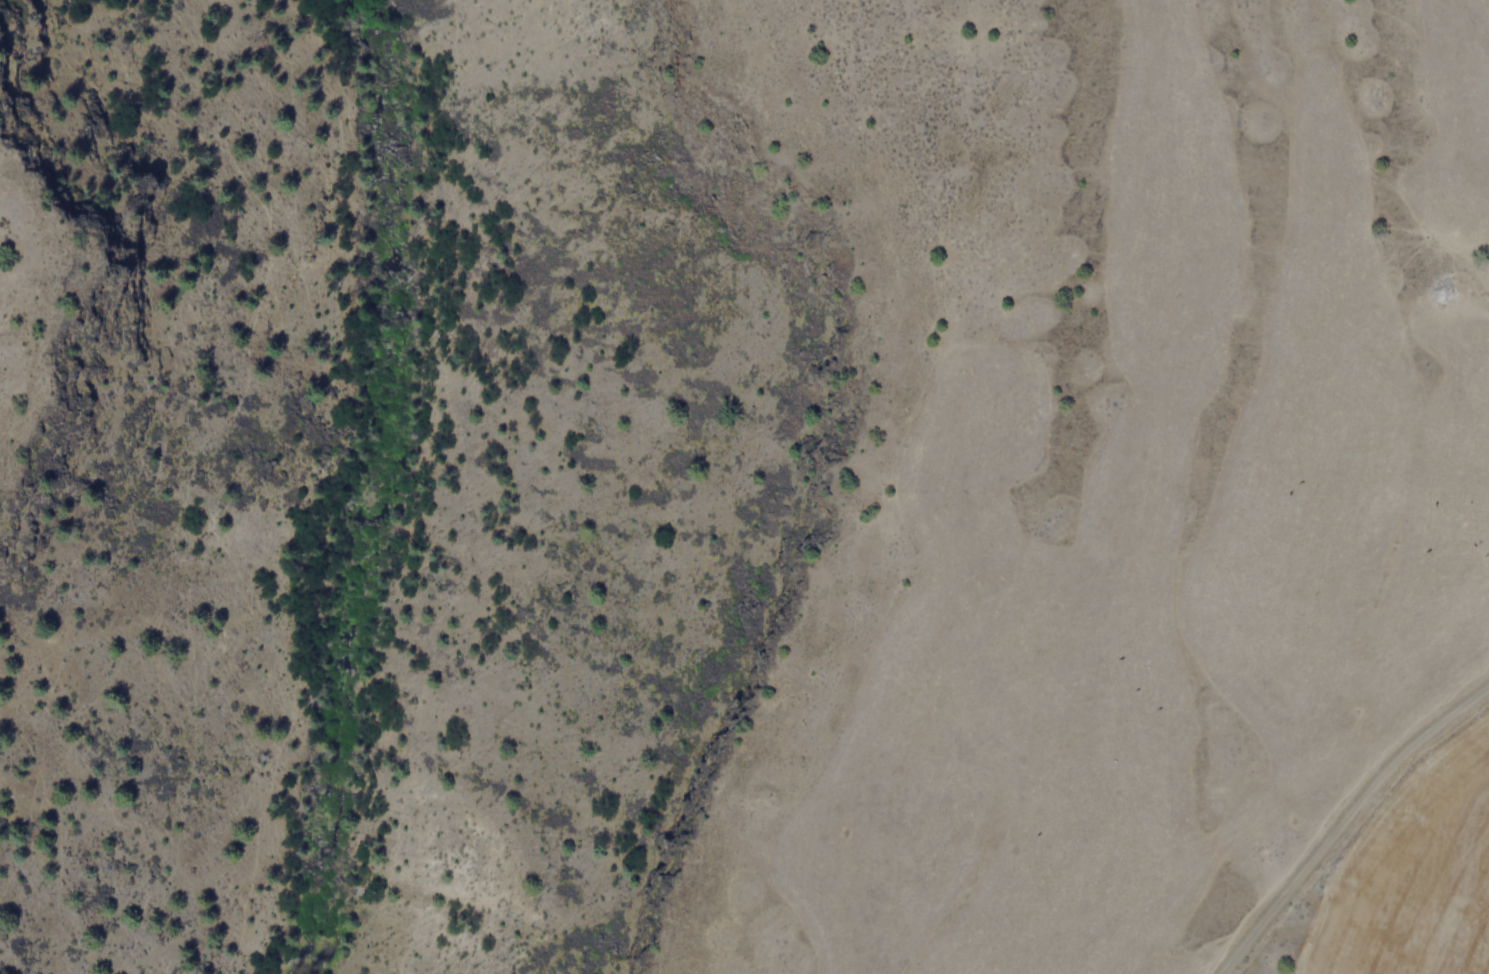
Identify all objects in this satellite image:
road: (1345, 821)

